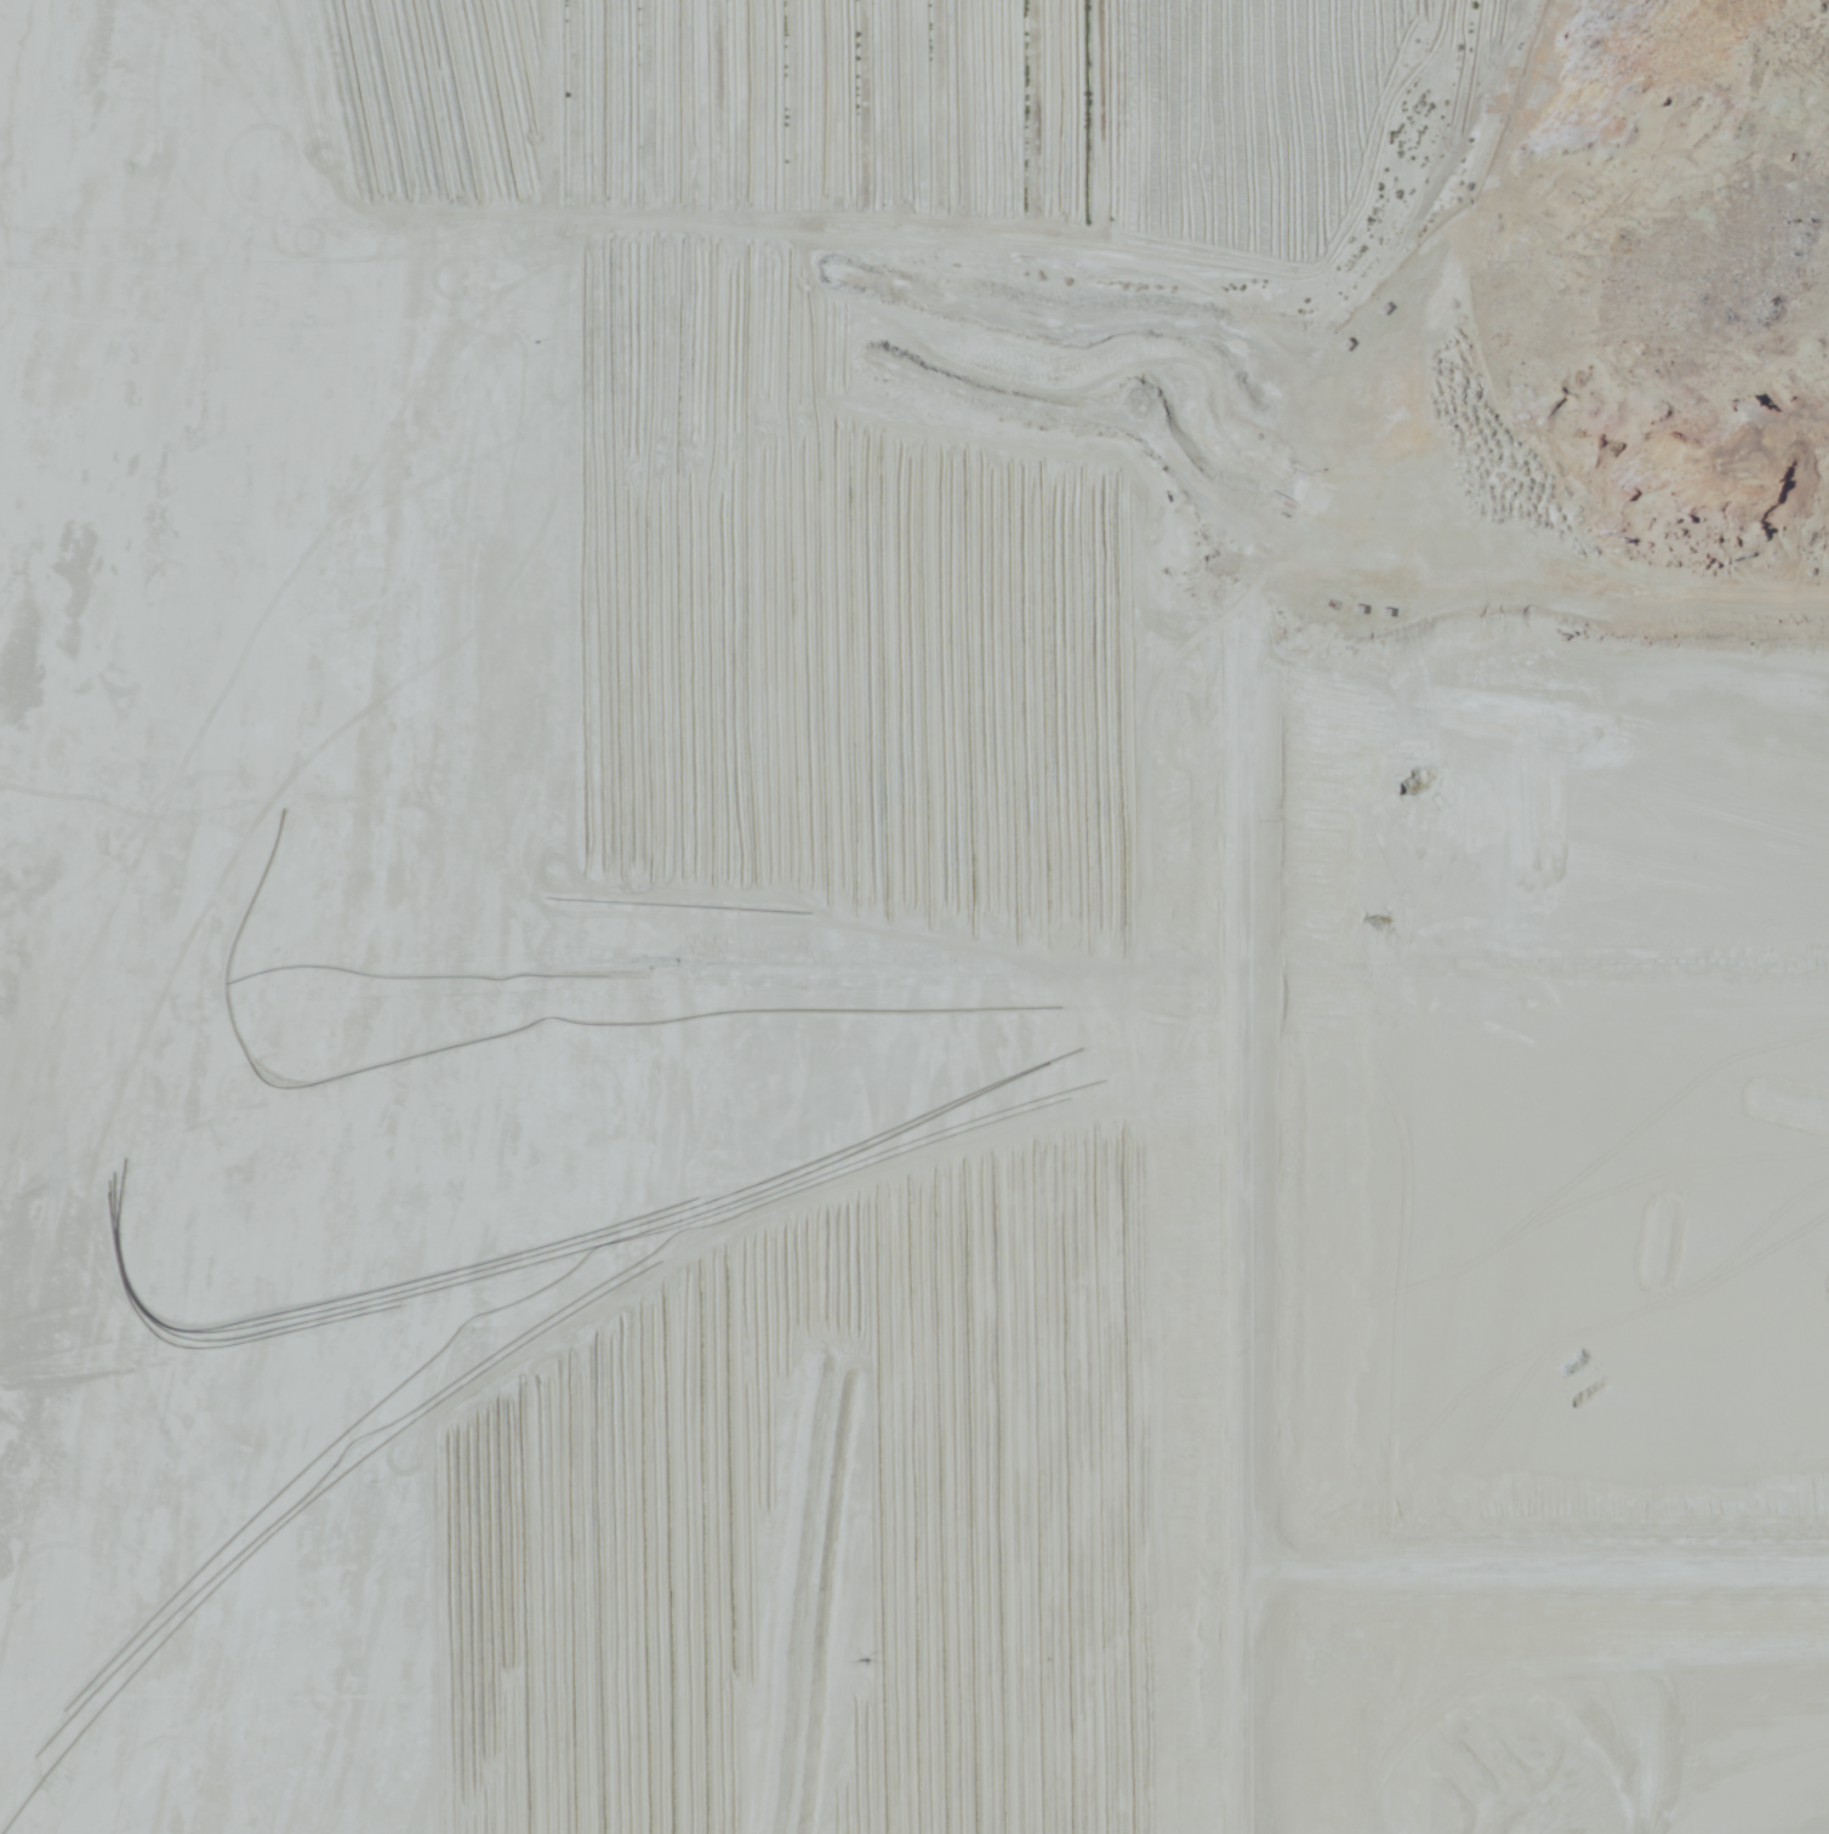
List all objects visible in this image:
road: (1286, 475)
road: (1573, 565)

